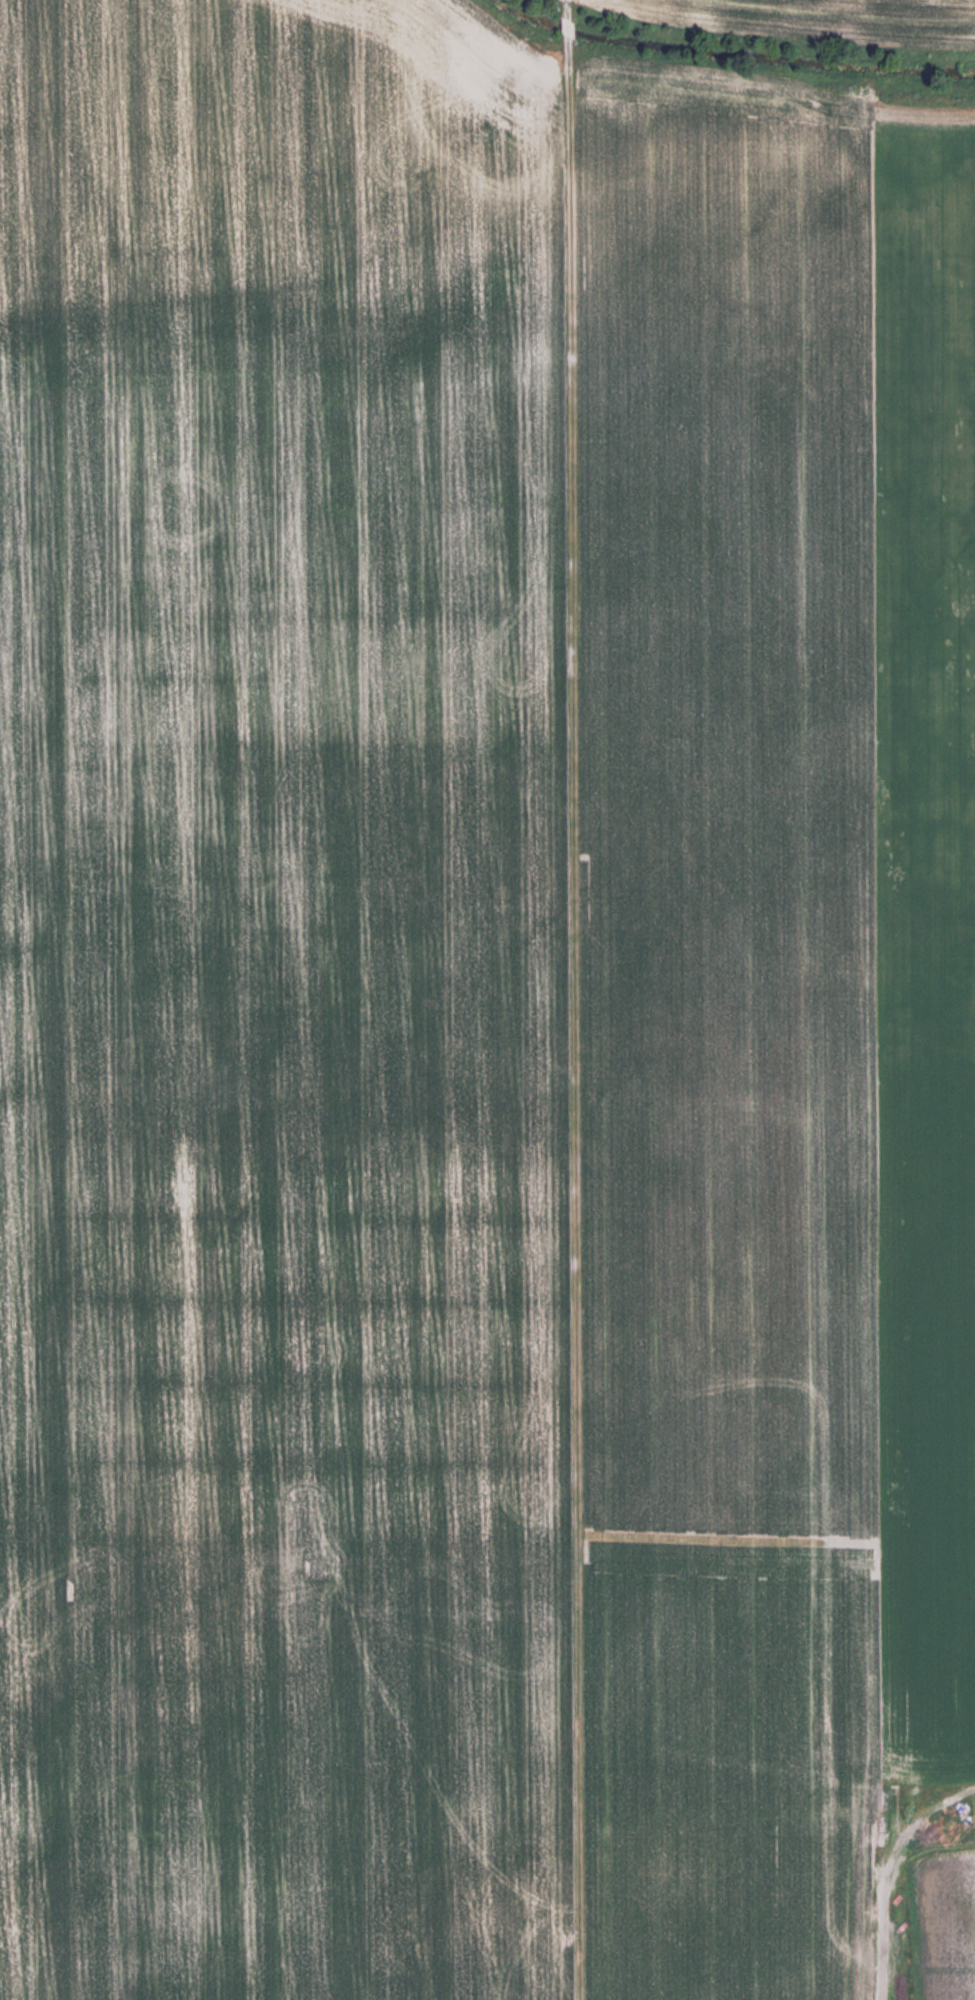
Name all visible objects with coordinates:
building: (903, 1957)

